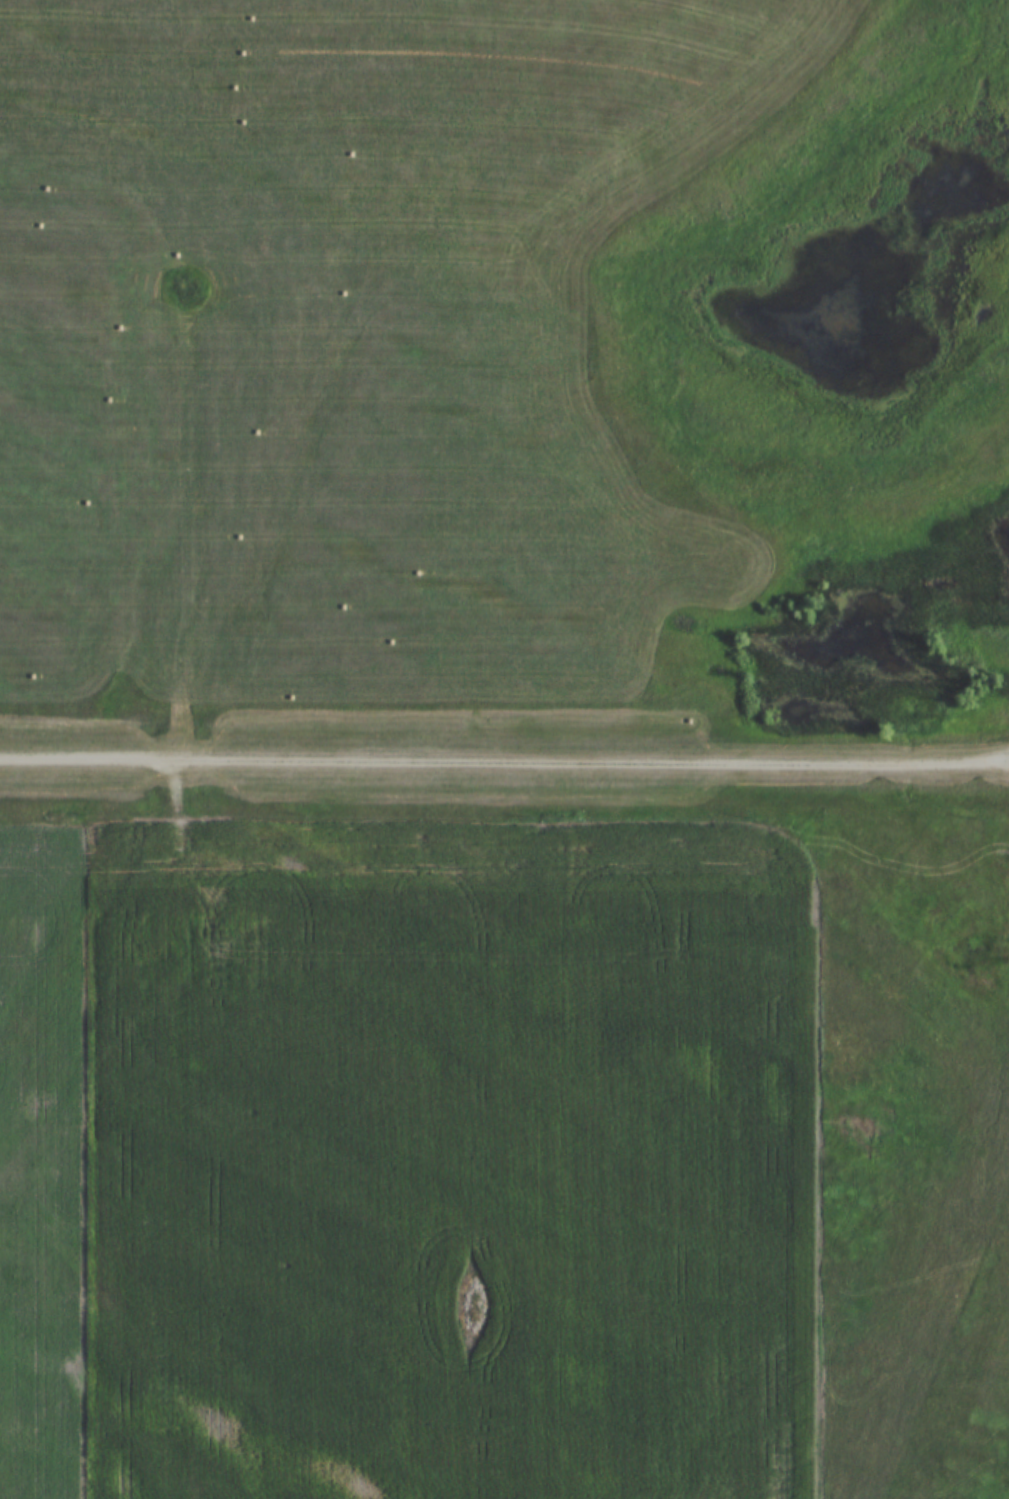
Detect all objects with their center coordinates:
road: (505, 756)

